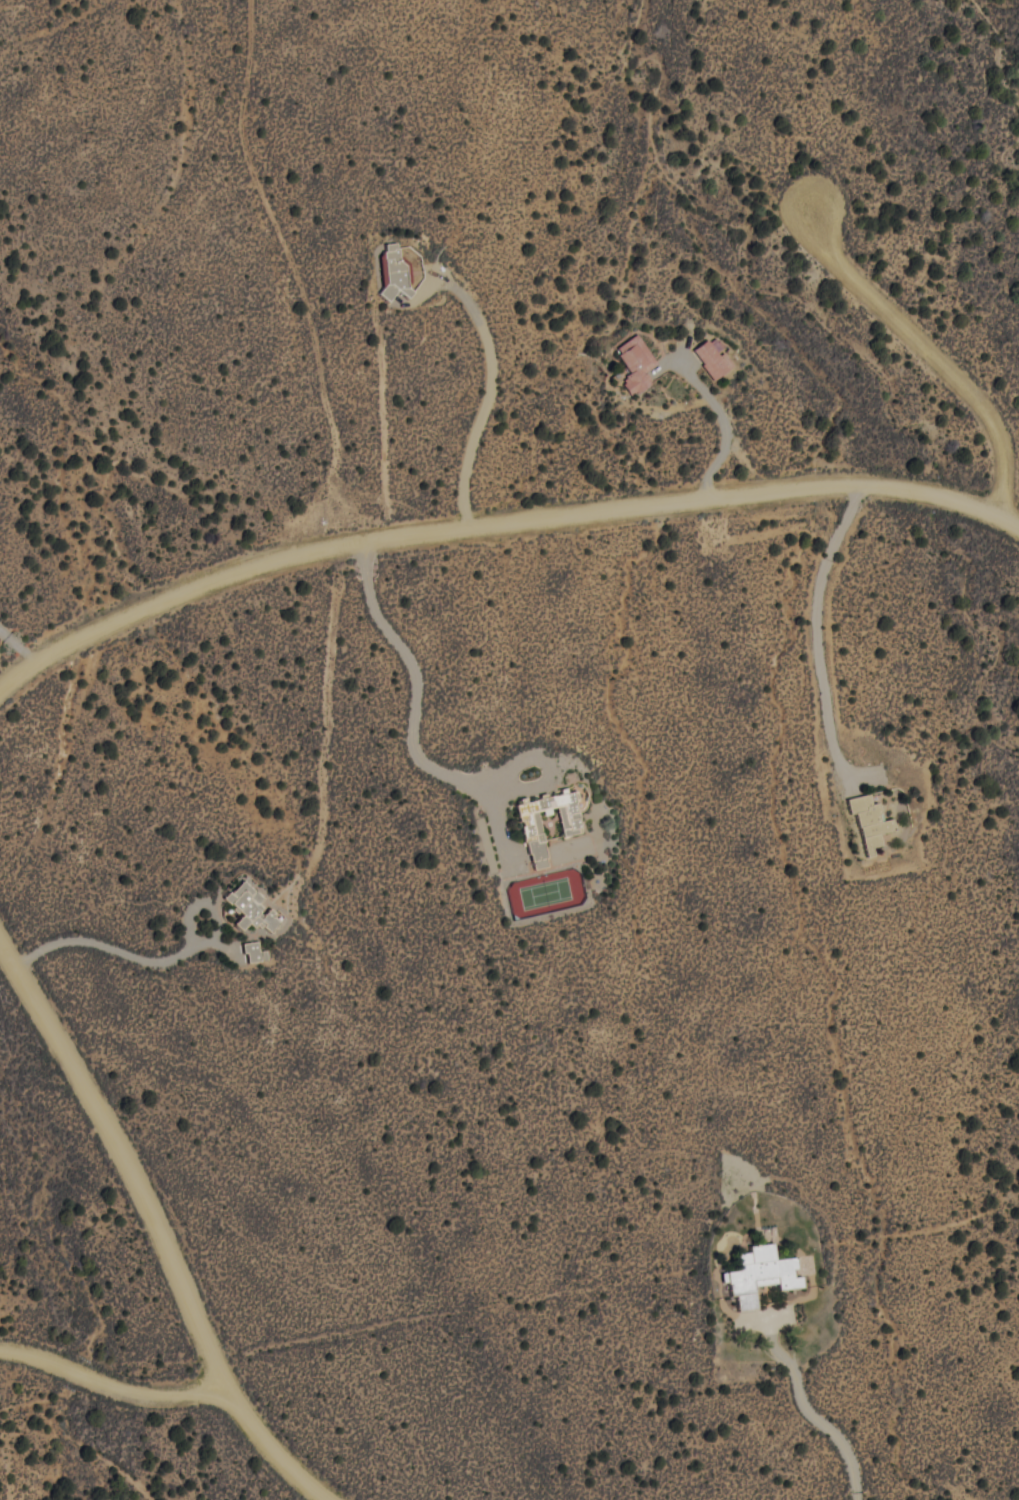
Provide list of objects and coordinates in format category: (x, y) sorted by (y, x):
road: (932, 351)
building: (713, 357)
building: (636, 363)
road: (497, 520)
road: (409, 701)
building: (579, 796)
building: (871, 819)
building: (569, 822)
park: (545, 892)
building: (251, 905)
road: (108, 947)
building: (254, 950)
road: (156, 1230)
building: (761, 1273)
road: (109, 1383)

